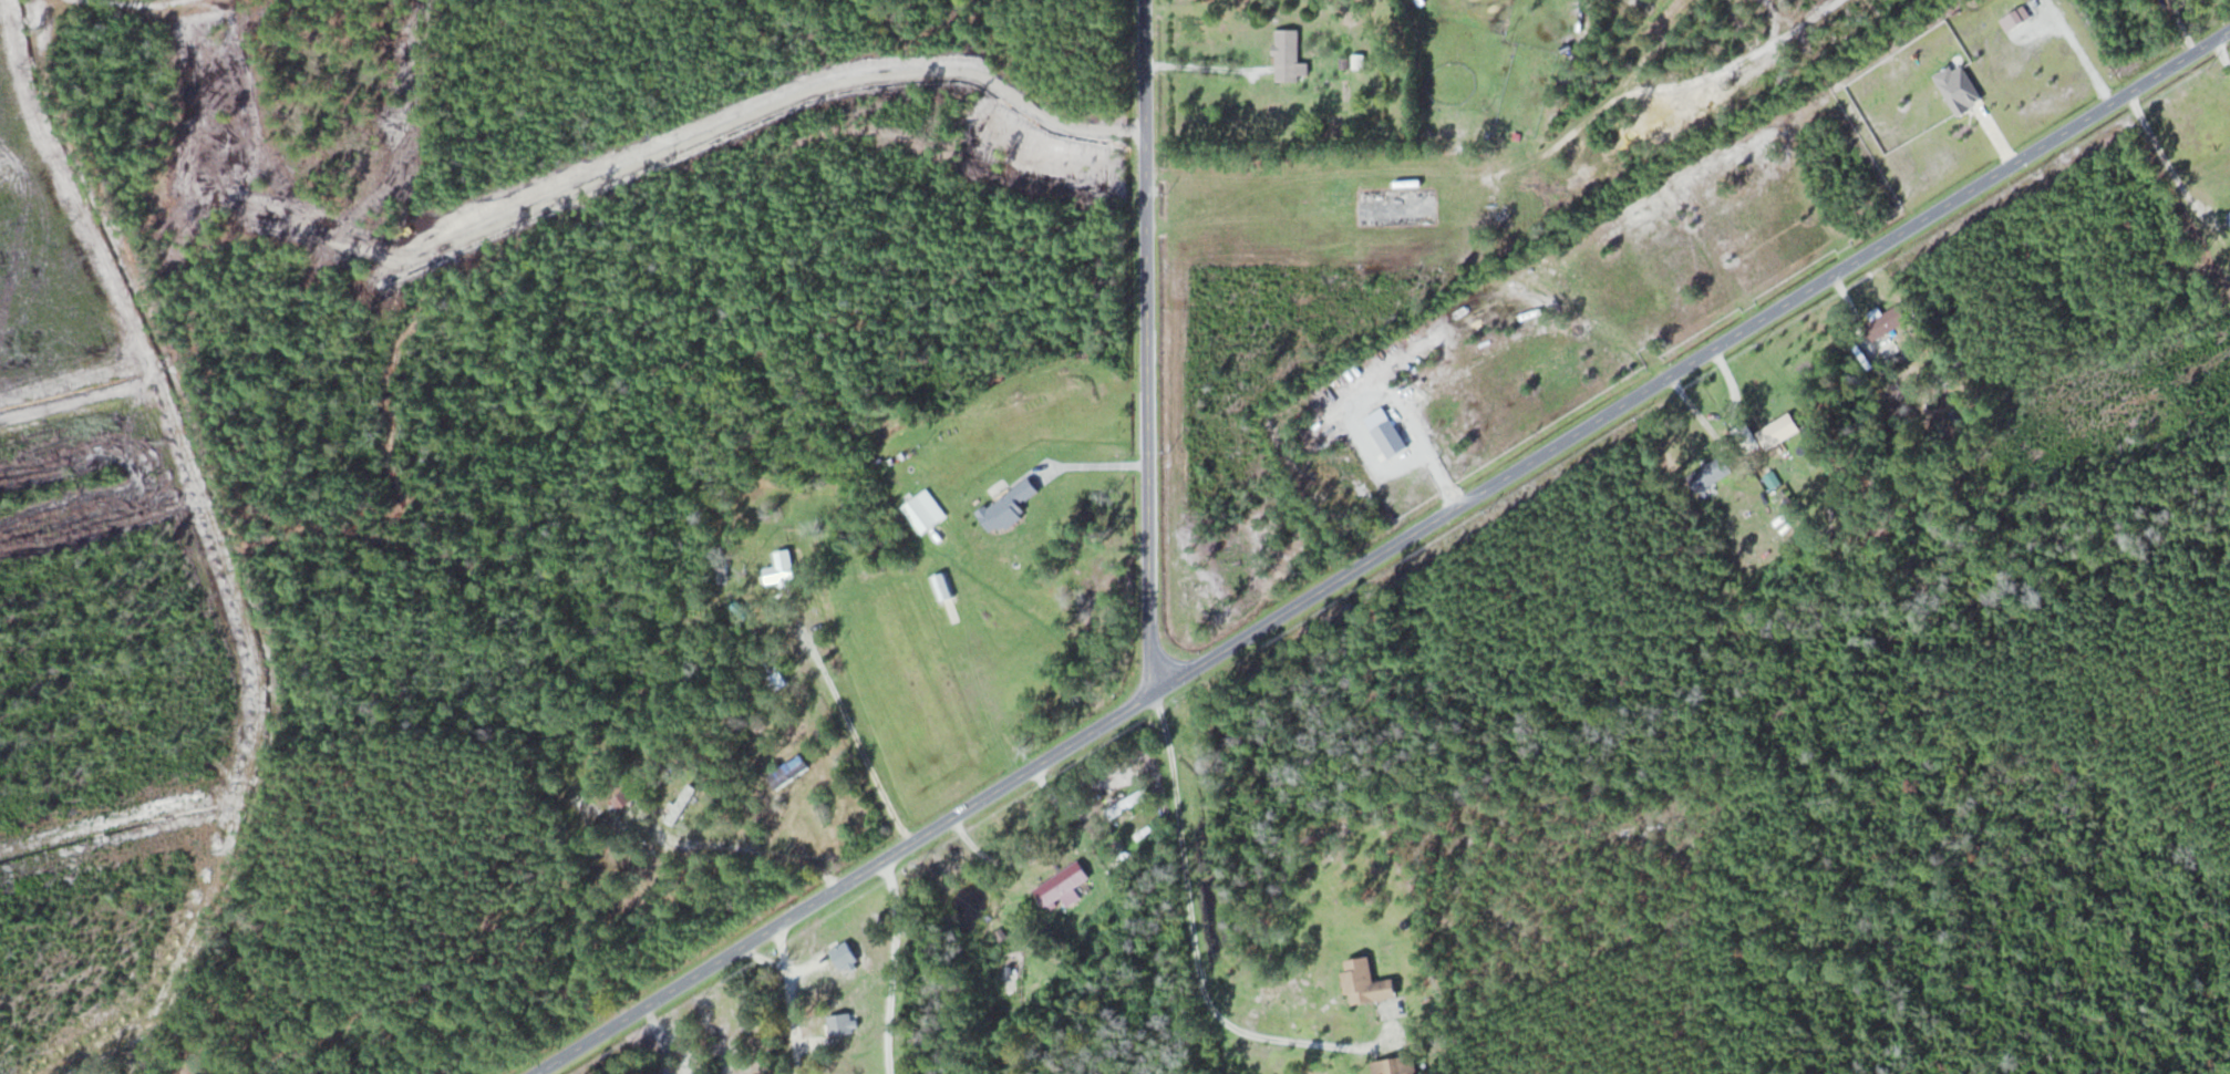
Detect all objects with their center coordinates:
building: (1290, 55)
crop: (1458, 62)
crop: (1524, 89)
building: (1446, 117)
building: (2229, 214)
building: (1887, 321)
road: (1154, 341)
road: (1692, 352)
building: (1779, 430)
building: (1710, 473)
building: (1008, 506)
building: (925, 510)
building: (781, 569)
building: (776, 679)
road: (850, 724)
building: (1127, 801)
building: (626, 803)
building: (680, 803)
road: (840, 880)
building: (1062, 887)
road: (1196, 954)
building: (845, 957)
road: (892, 963)
building: (1366, 982)
building: (843, 1023)
road: (661, 1035)
building: (1396, 1065)

